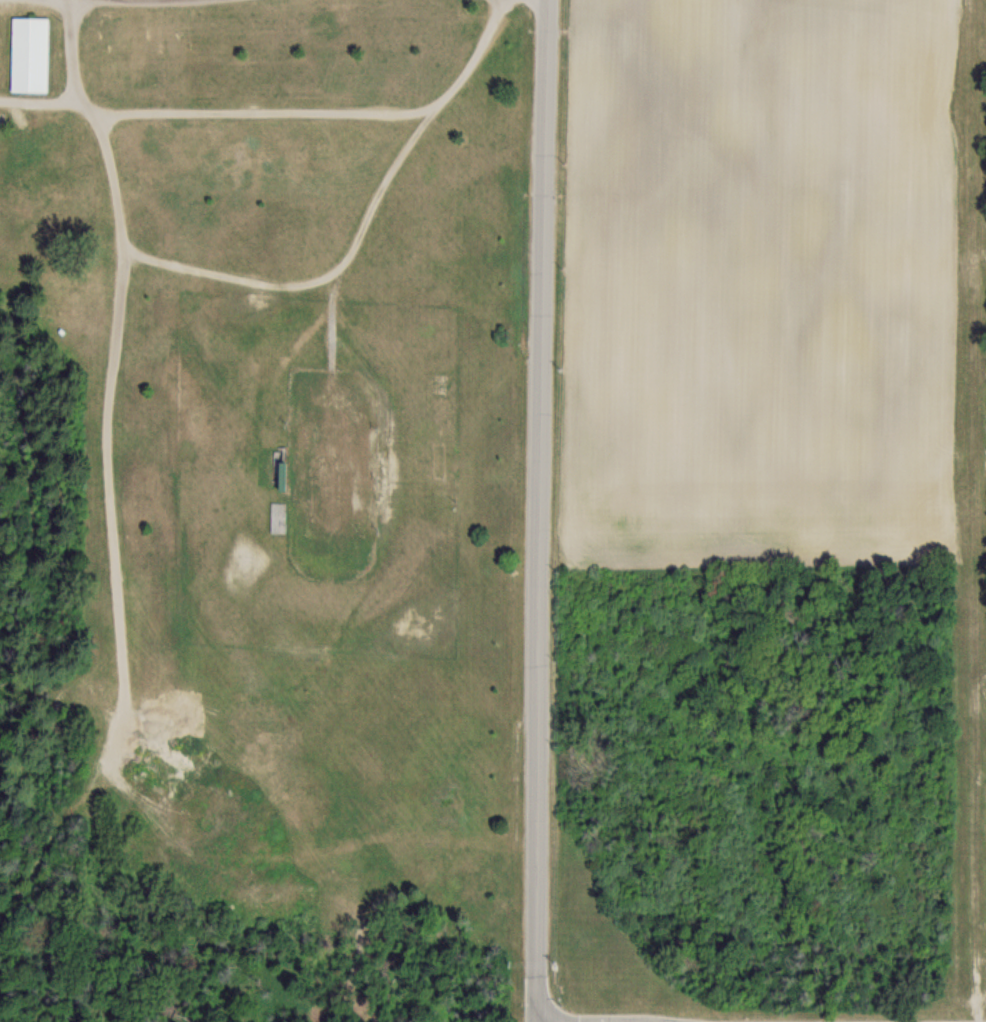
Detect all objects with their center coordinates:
road: (162, 0)
building: (28, 54)
building: (440, 384)
road: (10, 448)
park: (258, 509)
road: (543, 511)
road: (53, 615)
road: (4, 669)

